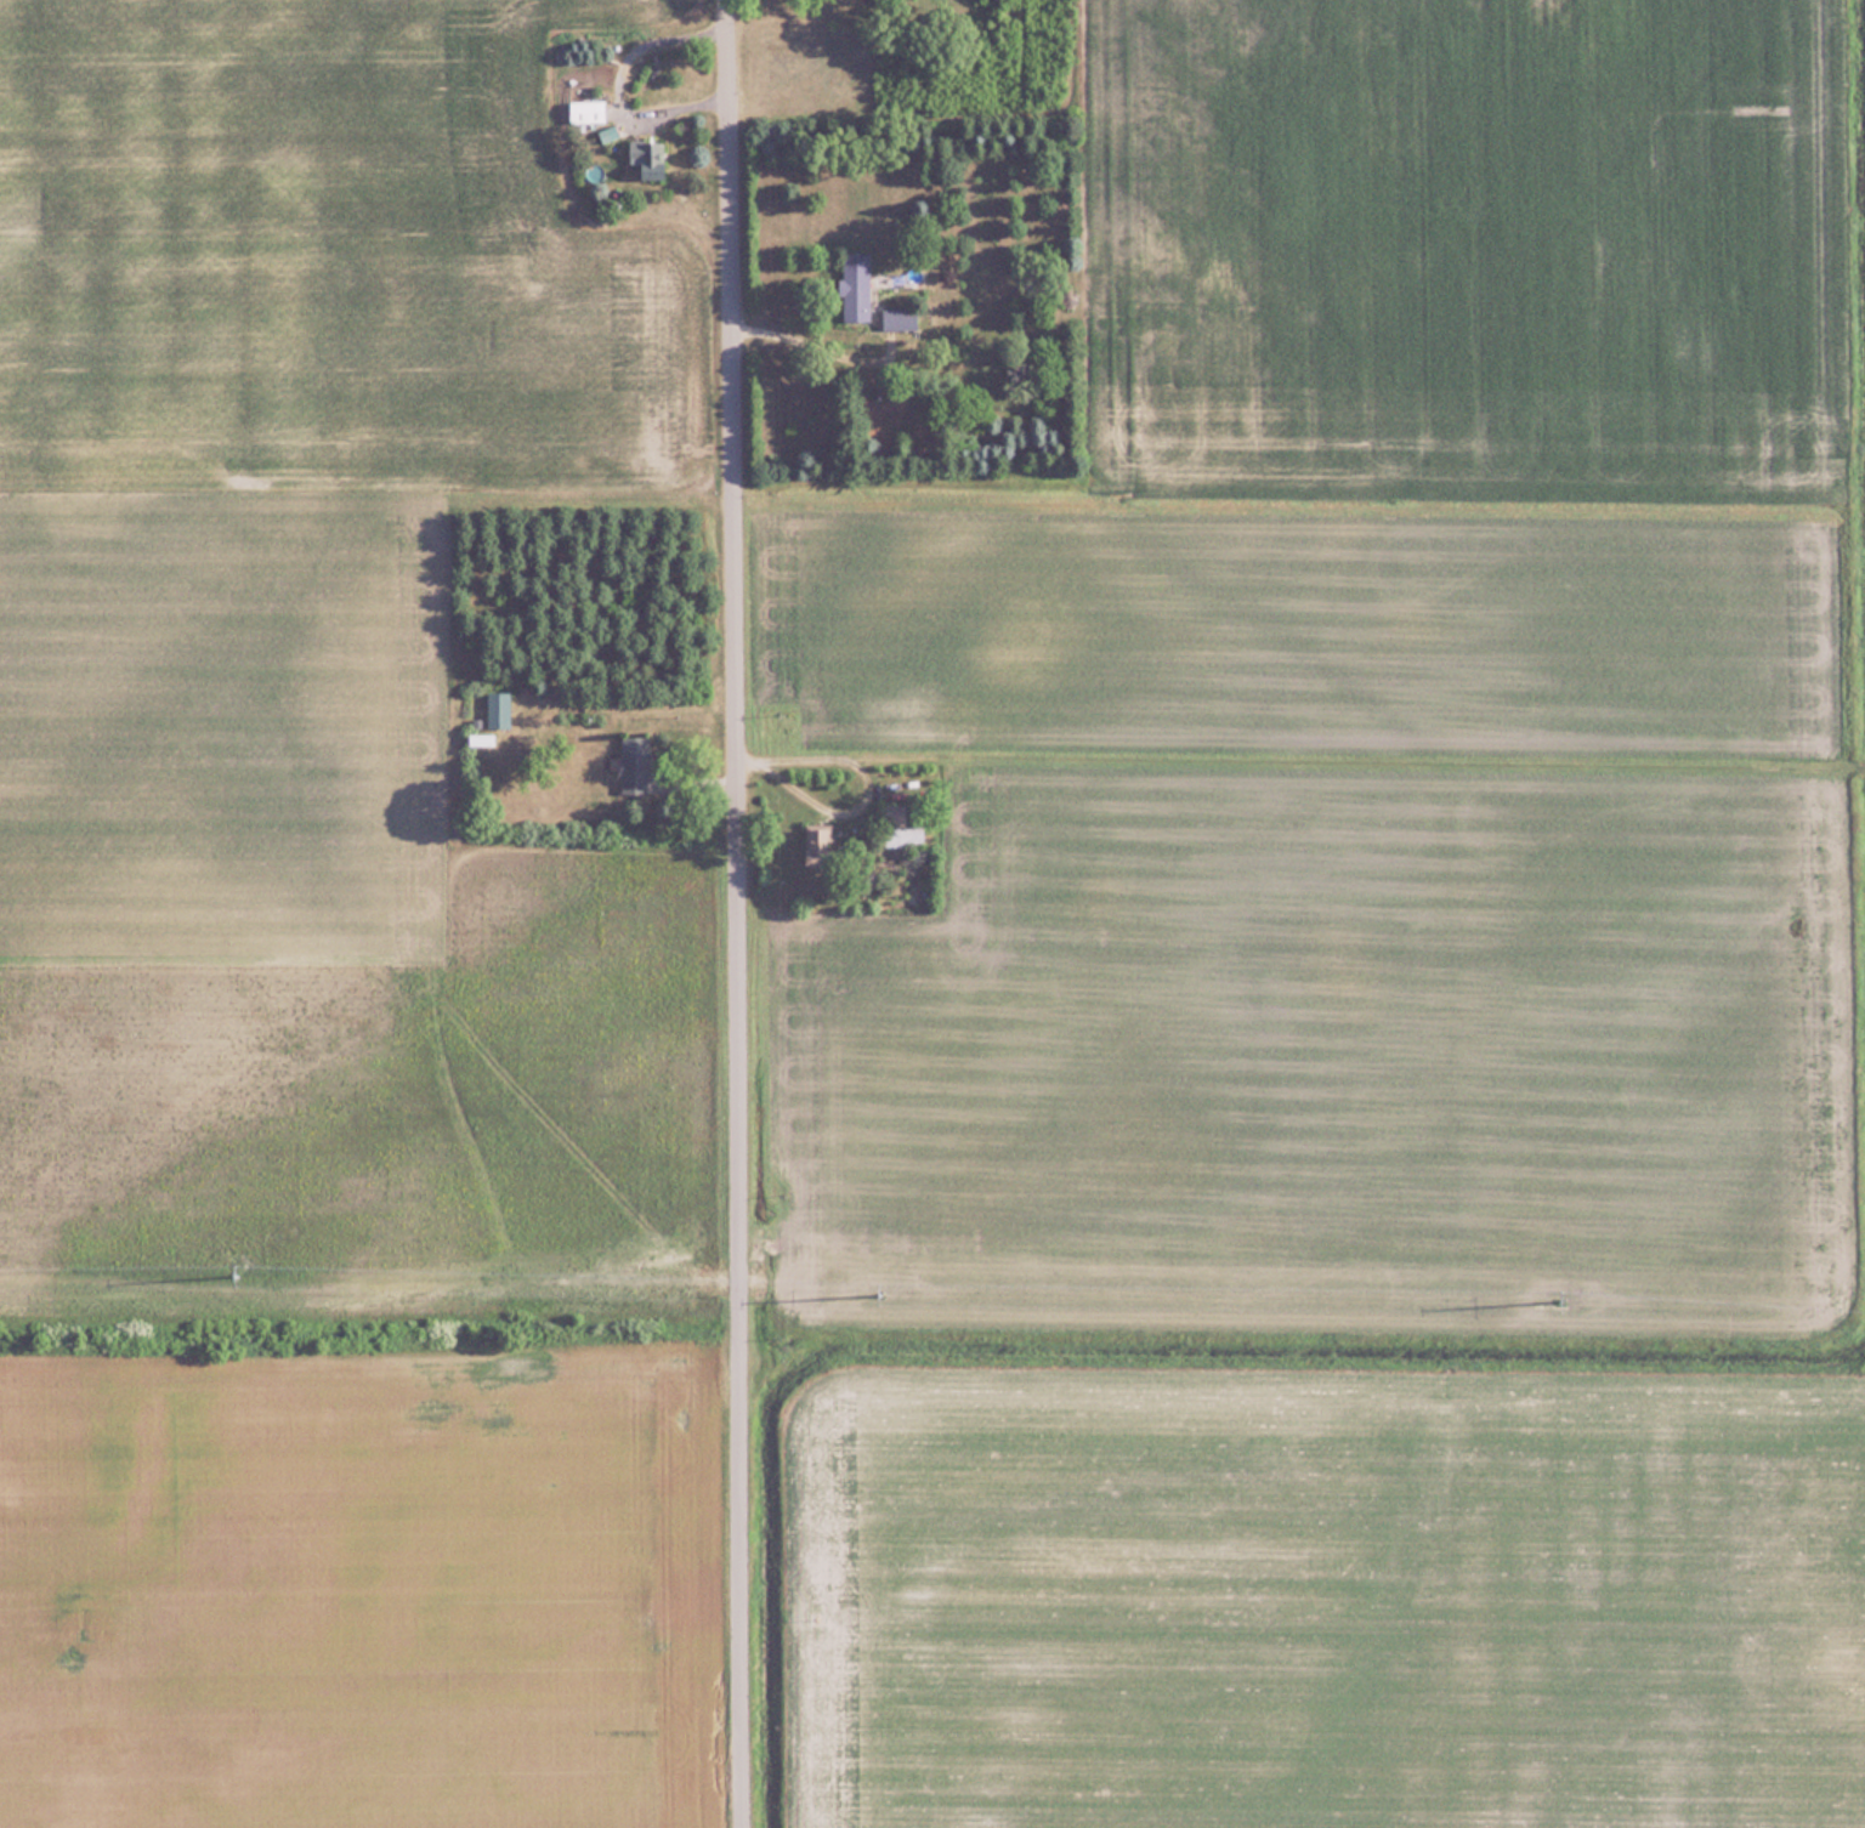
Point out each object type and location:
building: (588, 110)
building: (607, 132)
building: (650, 158)
building: (856, 285)
building: (899, 318)
road: (810, 341)
building: (499, 710)
building: (491, 739)
building: (635, 766)
building: (900, 828)
building: (818, 845)
road: (737, 913)

